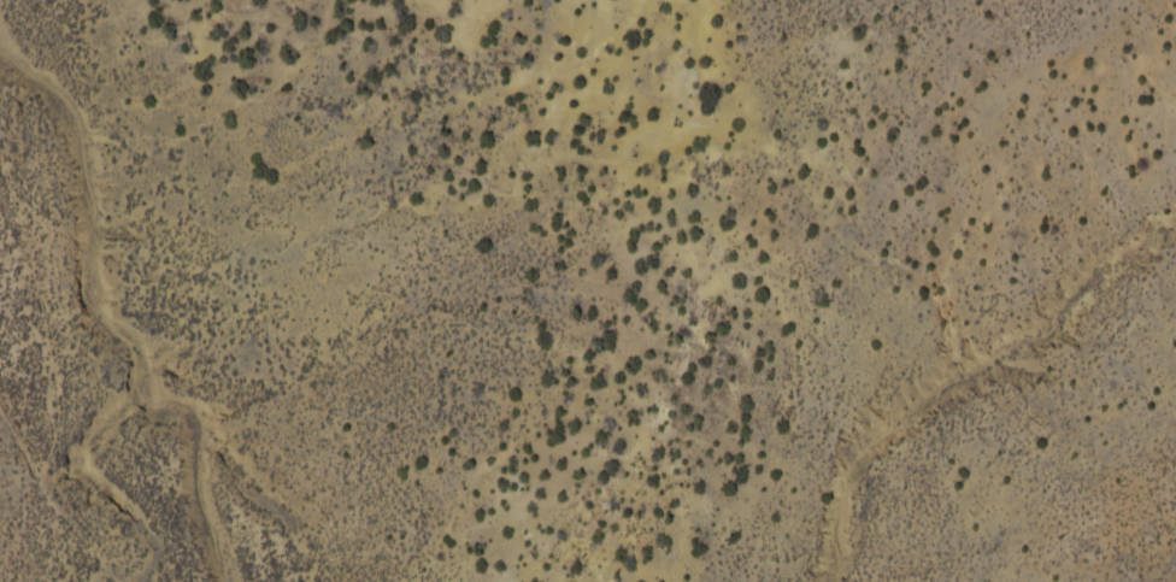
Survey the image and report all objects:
road: (54, 498)

